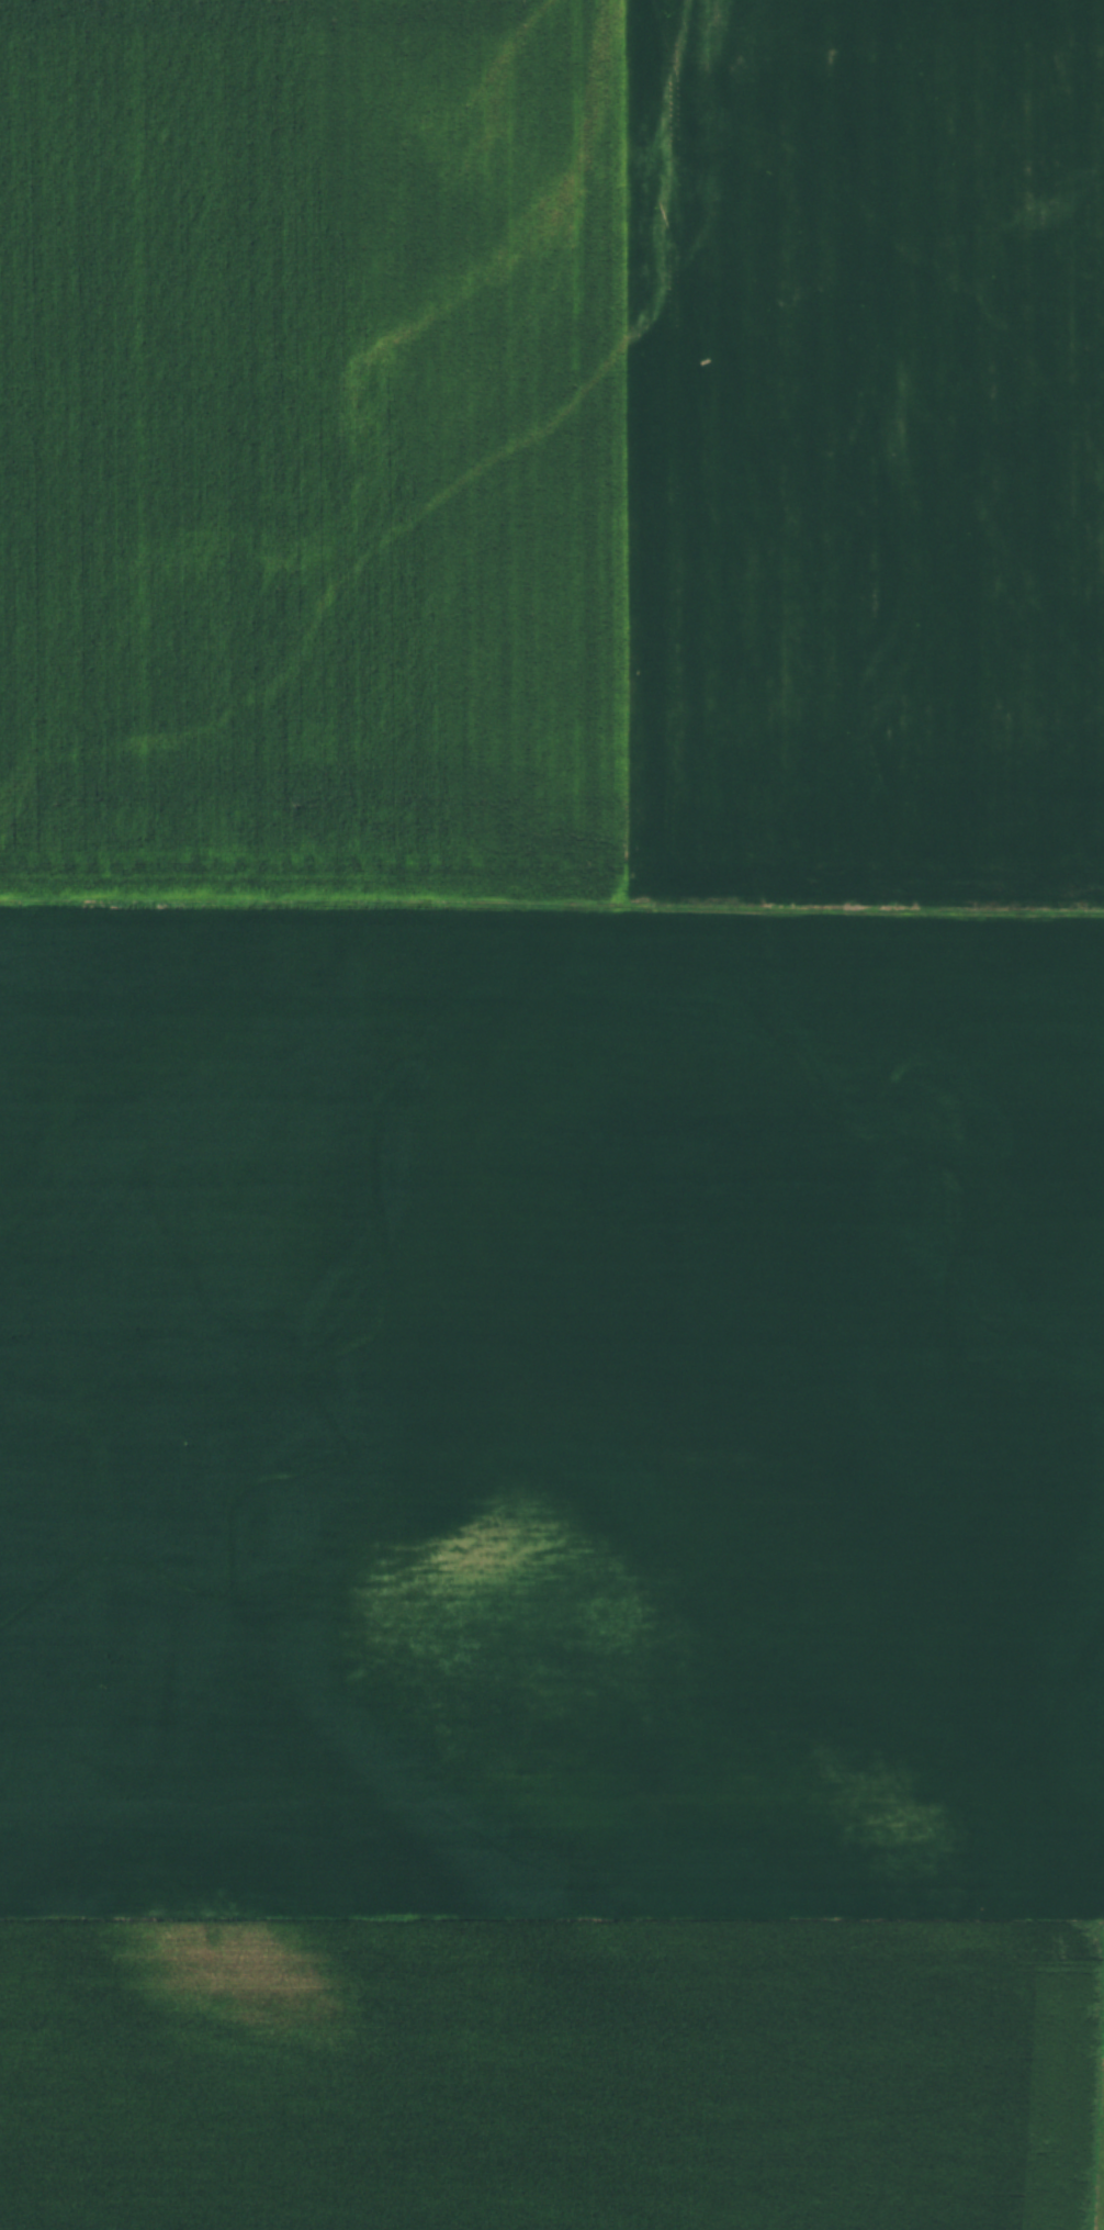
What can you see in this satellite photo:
road: (552, 919)

